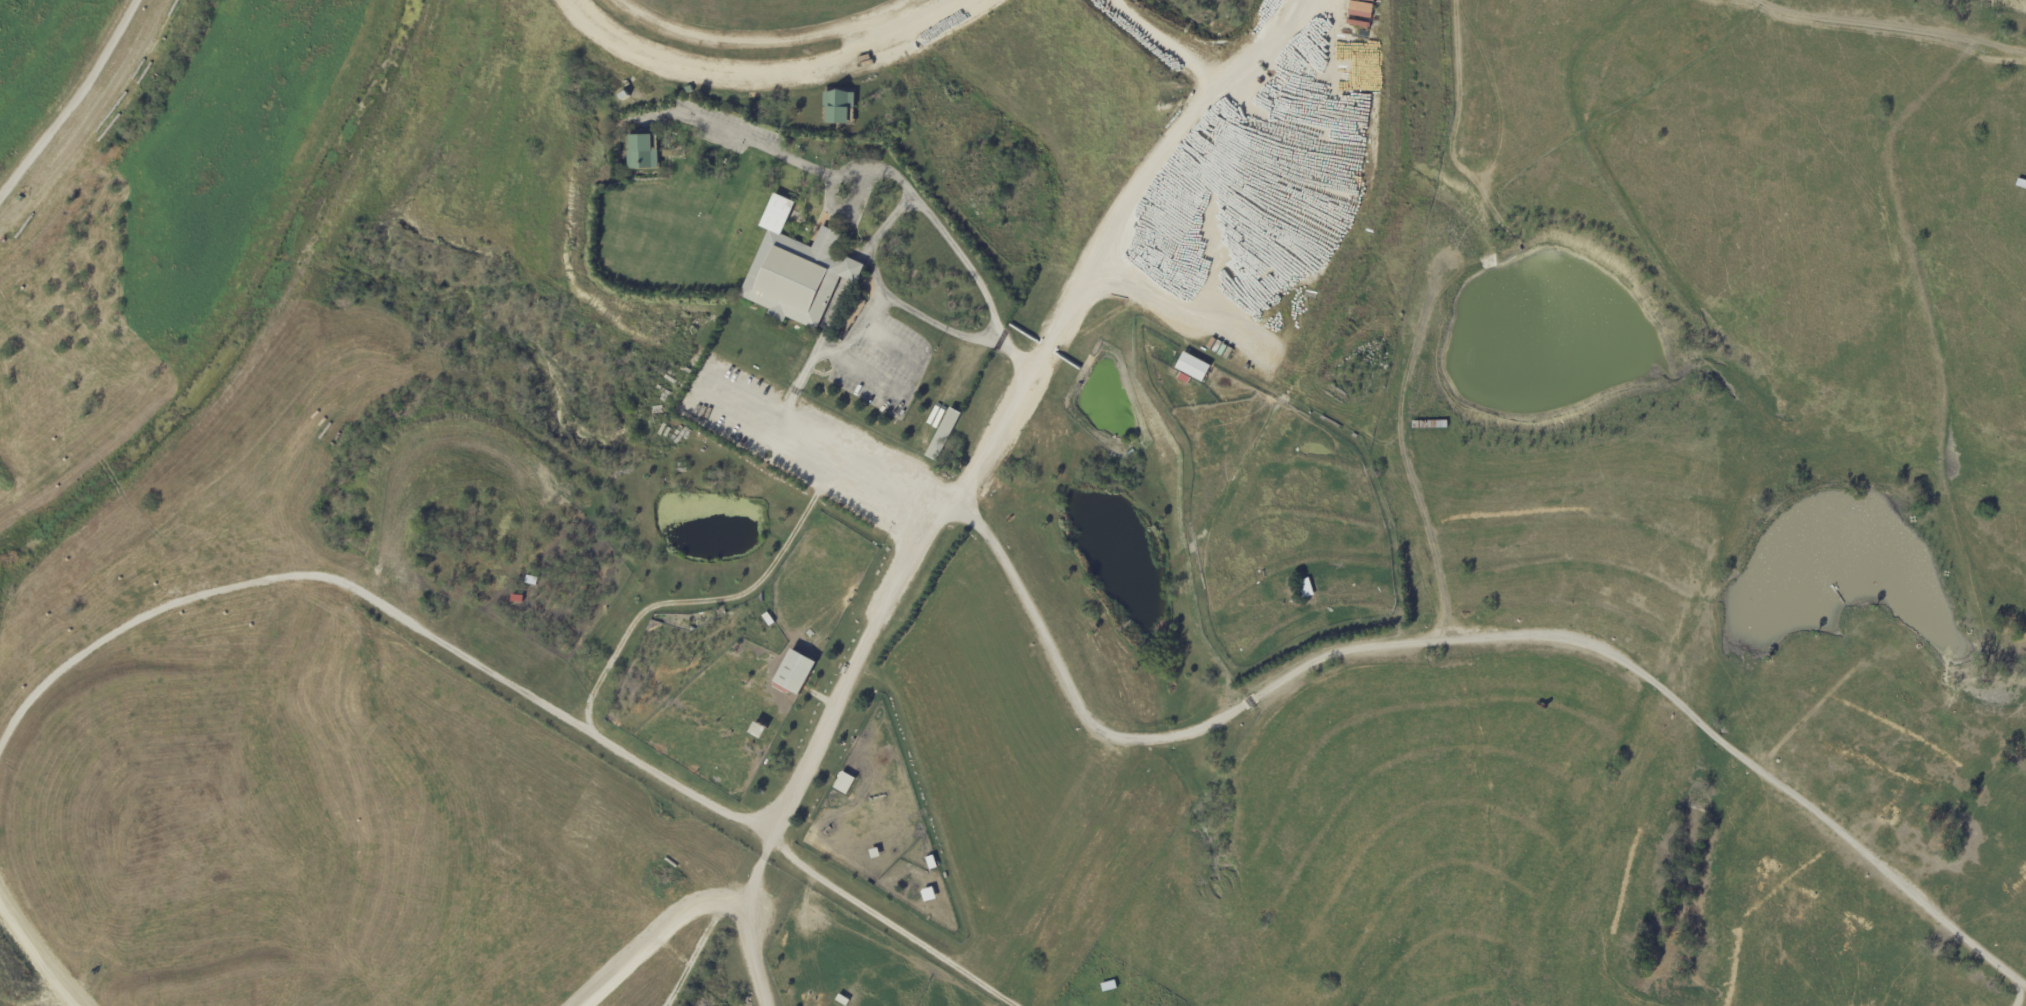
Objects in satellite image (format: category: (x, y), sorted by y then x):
building: (1360, 12)
road: (1919, 23)
building: (1278, 43)
building: (1213, 86)
building: (844, 107)
building: (647, 154)
road: (883, 170)
road: (846, 208)
building: (800, 271)
building: (1955, 285)
road: (872, 309)
road: (934, 323)
building: (1193, 368)
building: (1429, 425)
road: (805, 434)
building: (947, 434)
road: (764, 566)
building: (1304, 589)
road: (382, 607)
building: (799, 675)
road: (1204, 723)
road: (817, 735)
building: (845, 783)
building: (872, 853)
road: (906, 918)
road: (650, 931)
road: (40, 954)
building: (841, 1000)
road: (2019, 1004)

